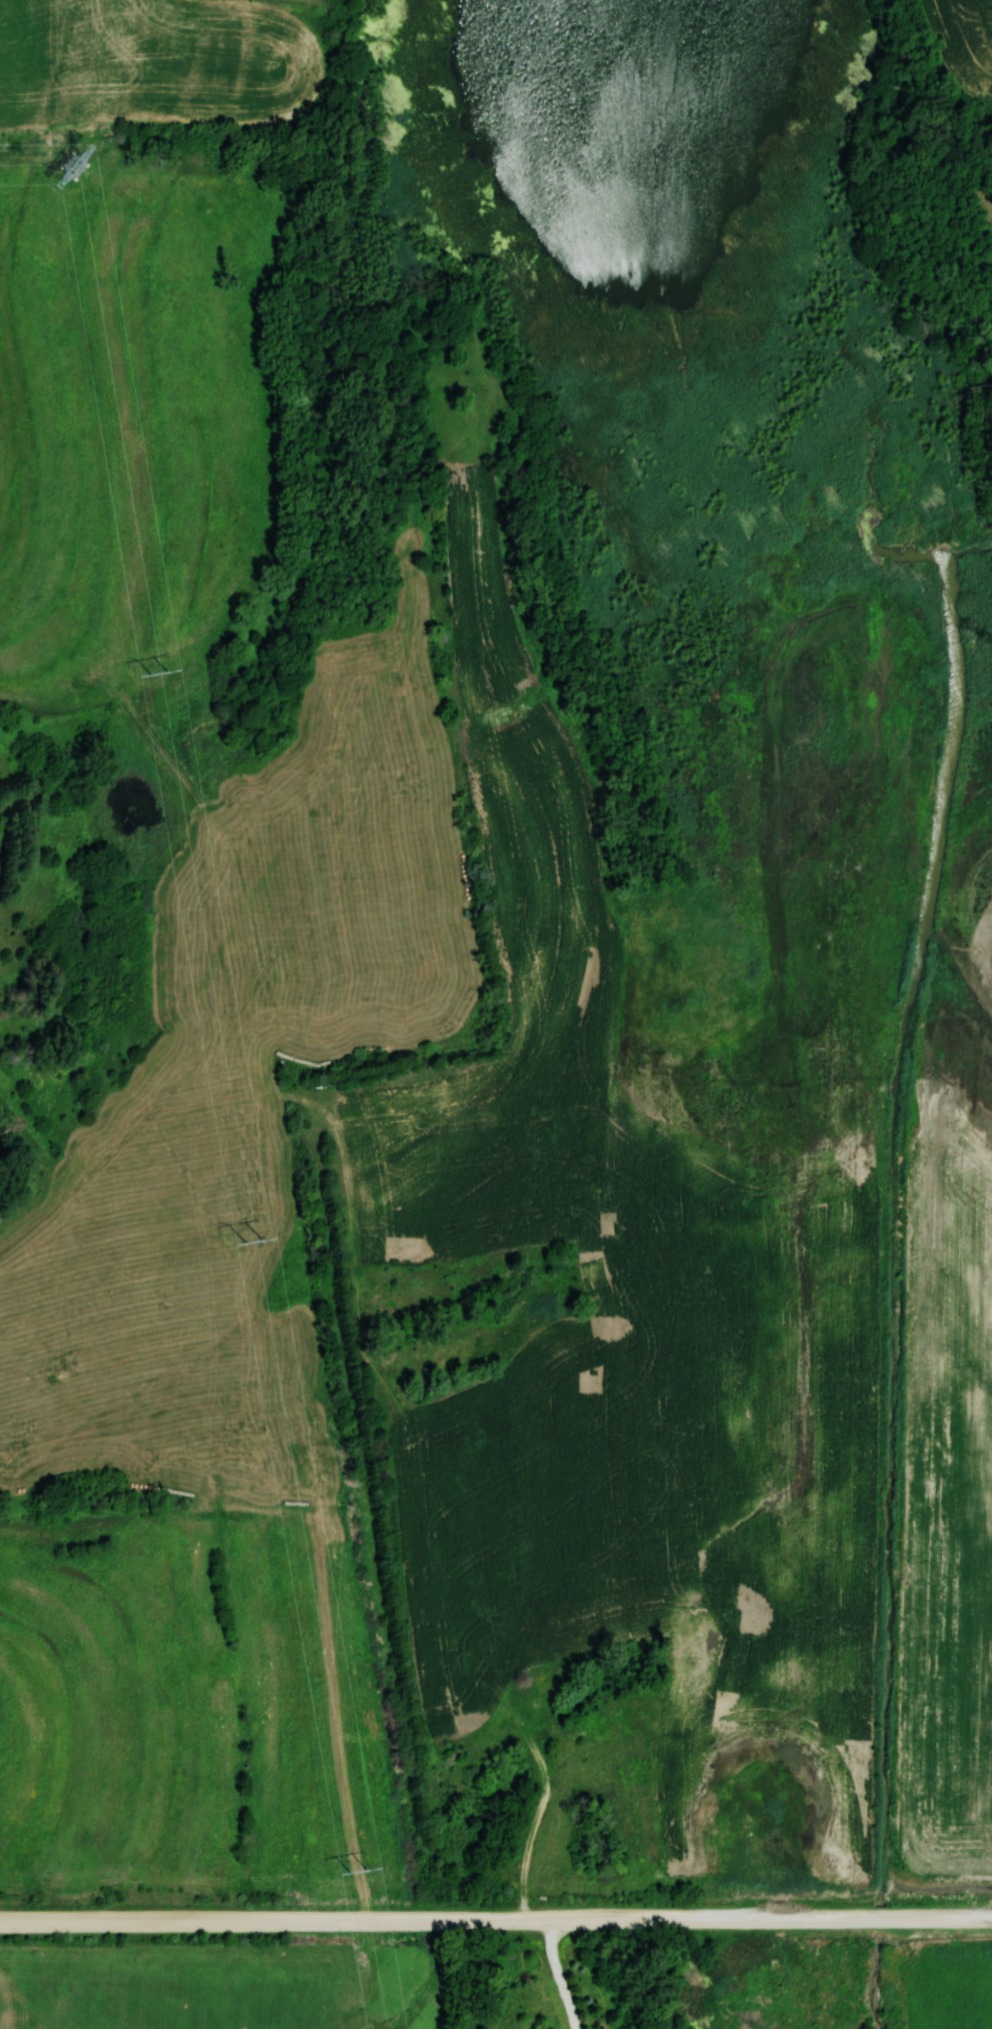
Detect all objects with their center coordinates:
power tower: (75, 164)
power tower: (160, 673)
power tower: (255, 1242)
power tower: (359, 1872)
road: (496, 1918)

